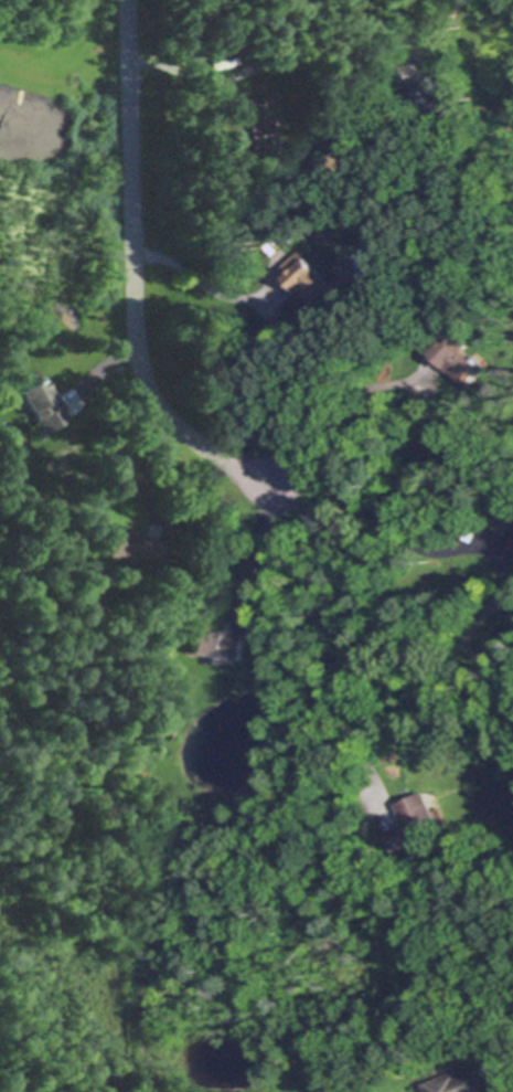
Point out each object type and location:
road: (455, 22)
building: (286, 57)
road: (189, 76)
building: (432, 104)
building: (260, 126)
road: (135, 276)
building: (310, 277)
road: (205, 288)
building: (457, 316)
building: (453, 352)
building: (42, 401)
building: (502, 518)
road: (383, 522)
building: (512, 539)
building: (132, 542)
road: (270, 560)
building: (498, 597)
road: (341, 642)
building: (216, 643)
building: (279, 667)
building: (413, 820)
building: (463, 1082)

